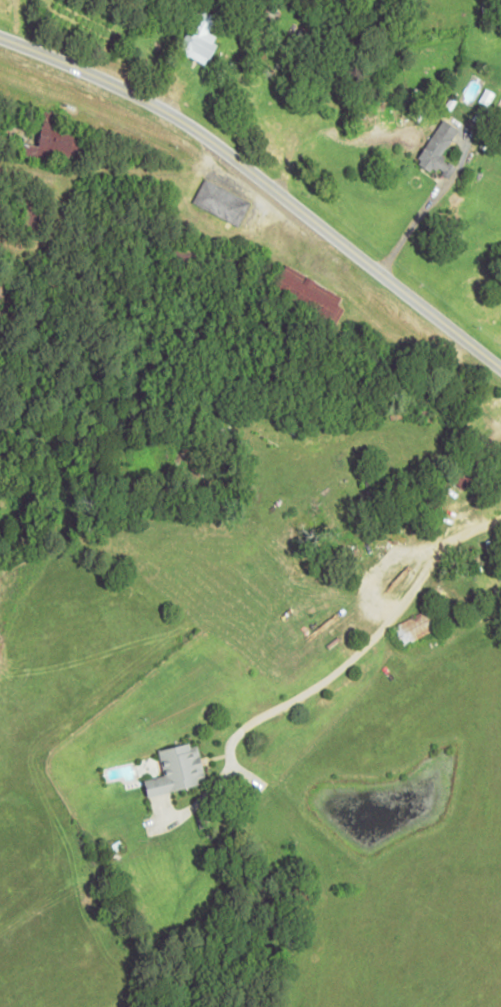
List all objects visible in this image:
building: (200, 37)
building: (488, 98)
building: (54, 141)
road: (264, 182)
building: (221, 201)
building: (308, 290)
building: (498, 455)
road: (363, 627)
building: (415, 627)
building: (178, 770)

